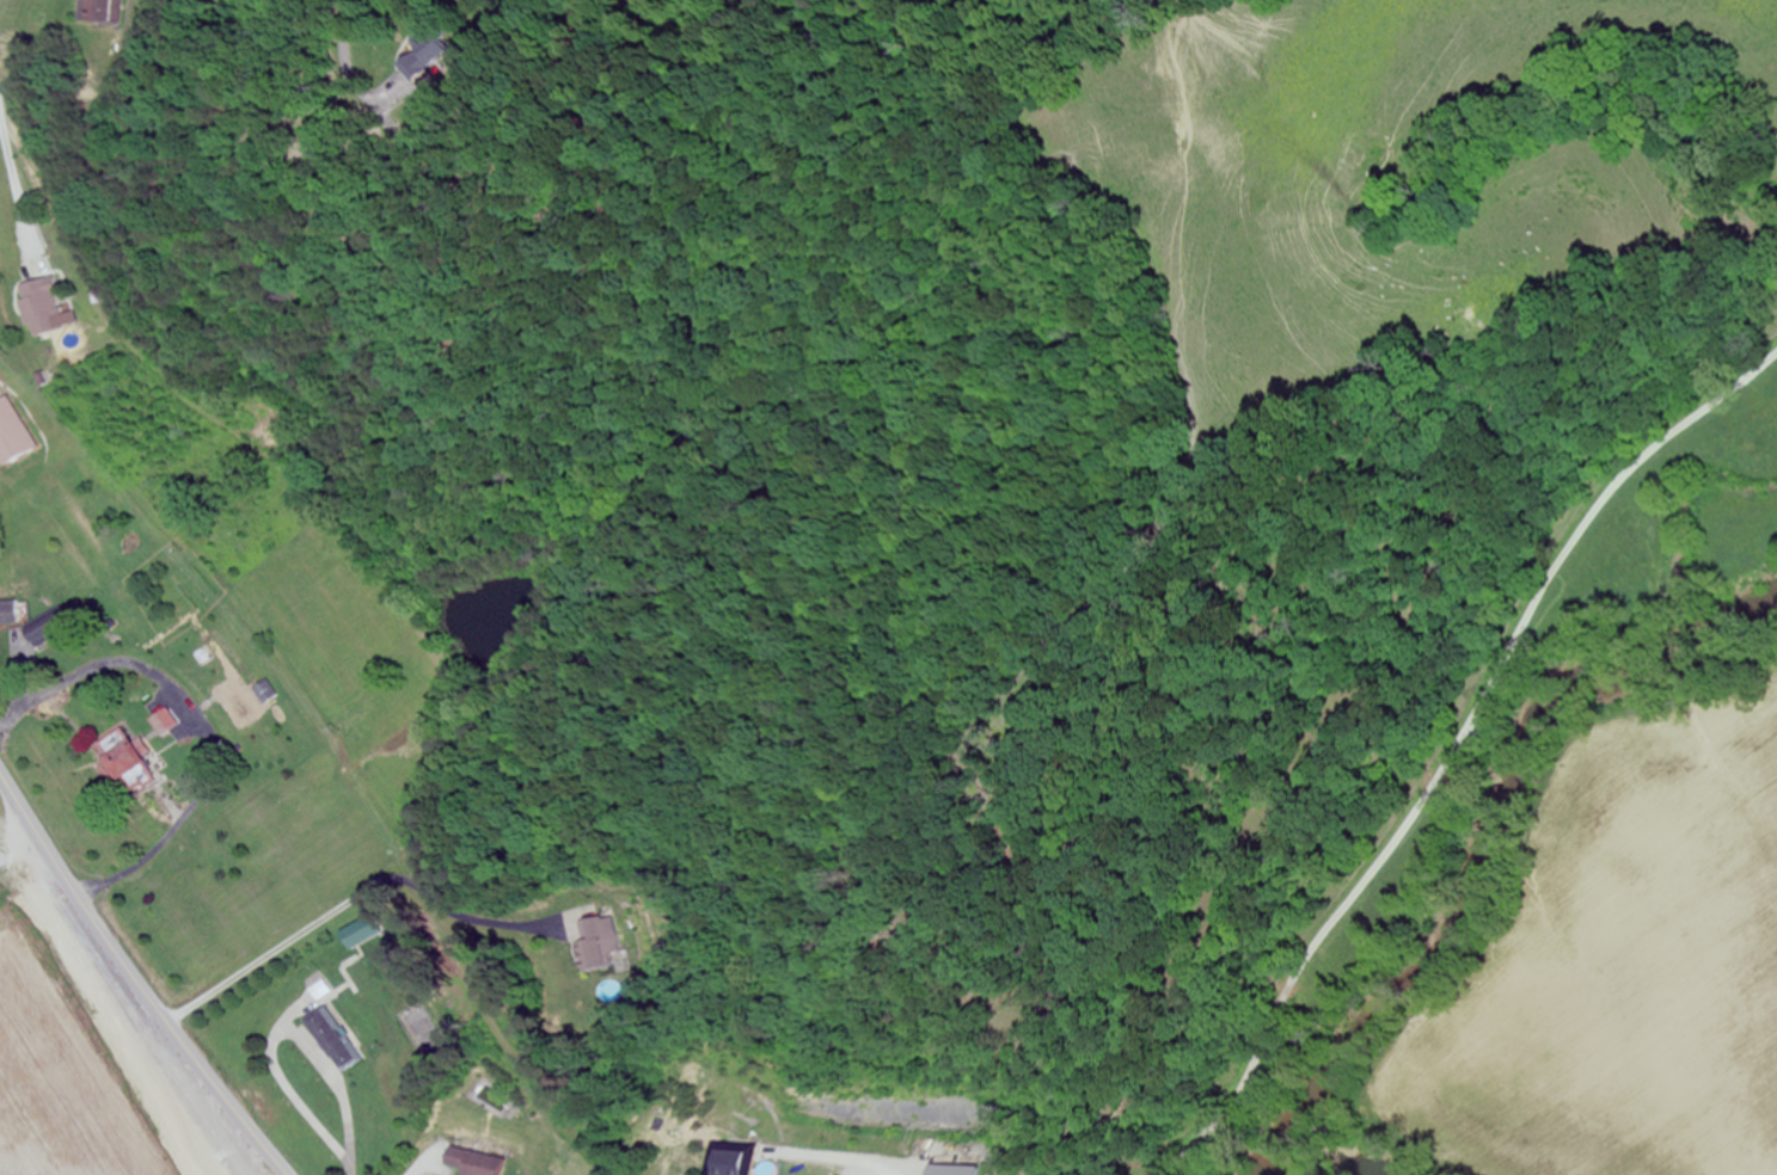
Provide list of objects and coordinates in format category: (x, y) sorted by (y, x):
building: (87, 11)
road: (347, 38)
building: (423, 59)
building: (41, 307)
building: (12, 435)
building: (11, 614)
building: (164, 724)
road: (1454, 753)
building: (120, 756)
building: (355, 934)
building: (594, 942)
road: (134, 979)
building: (332, 1040)
building: (467, 1163)
building: (721, 1164)
river: (1324, 1165)

